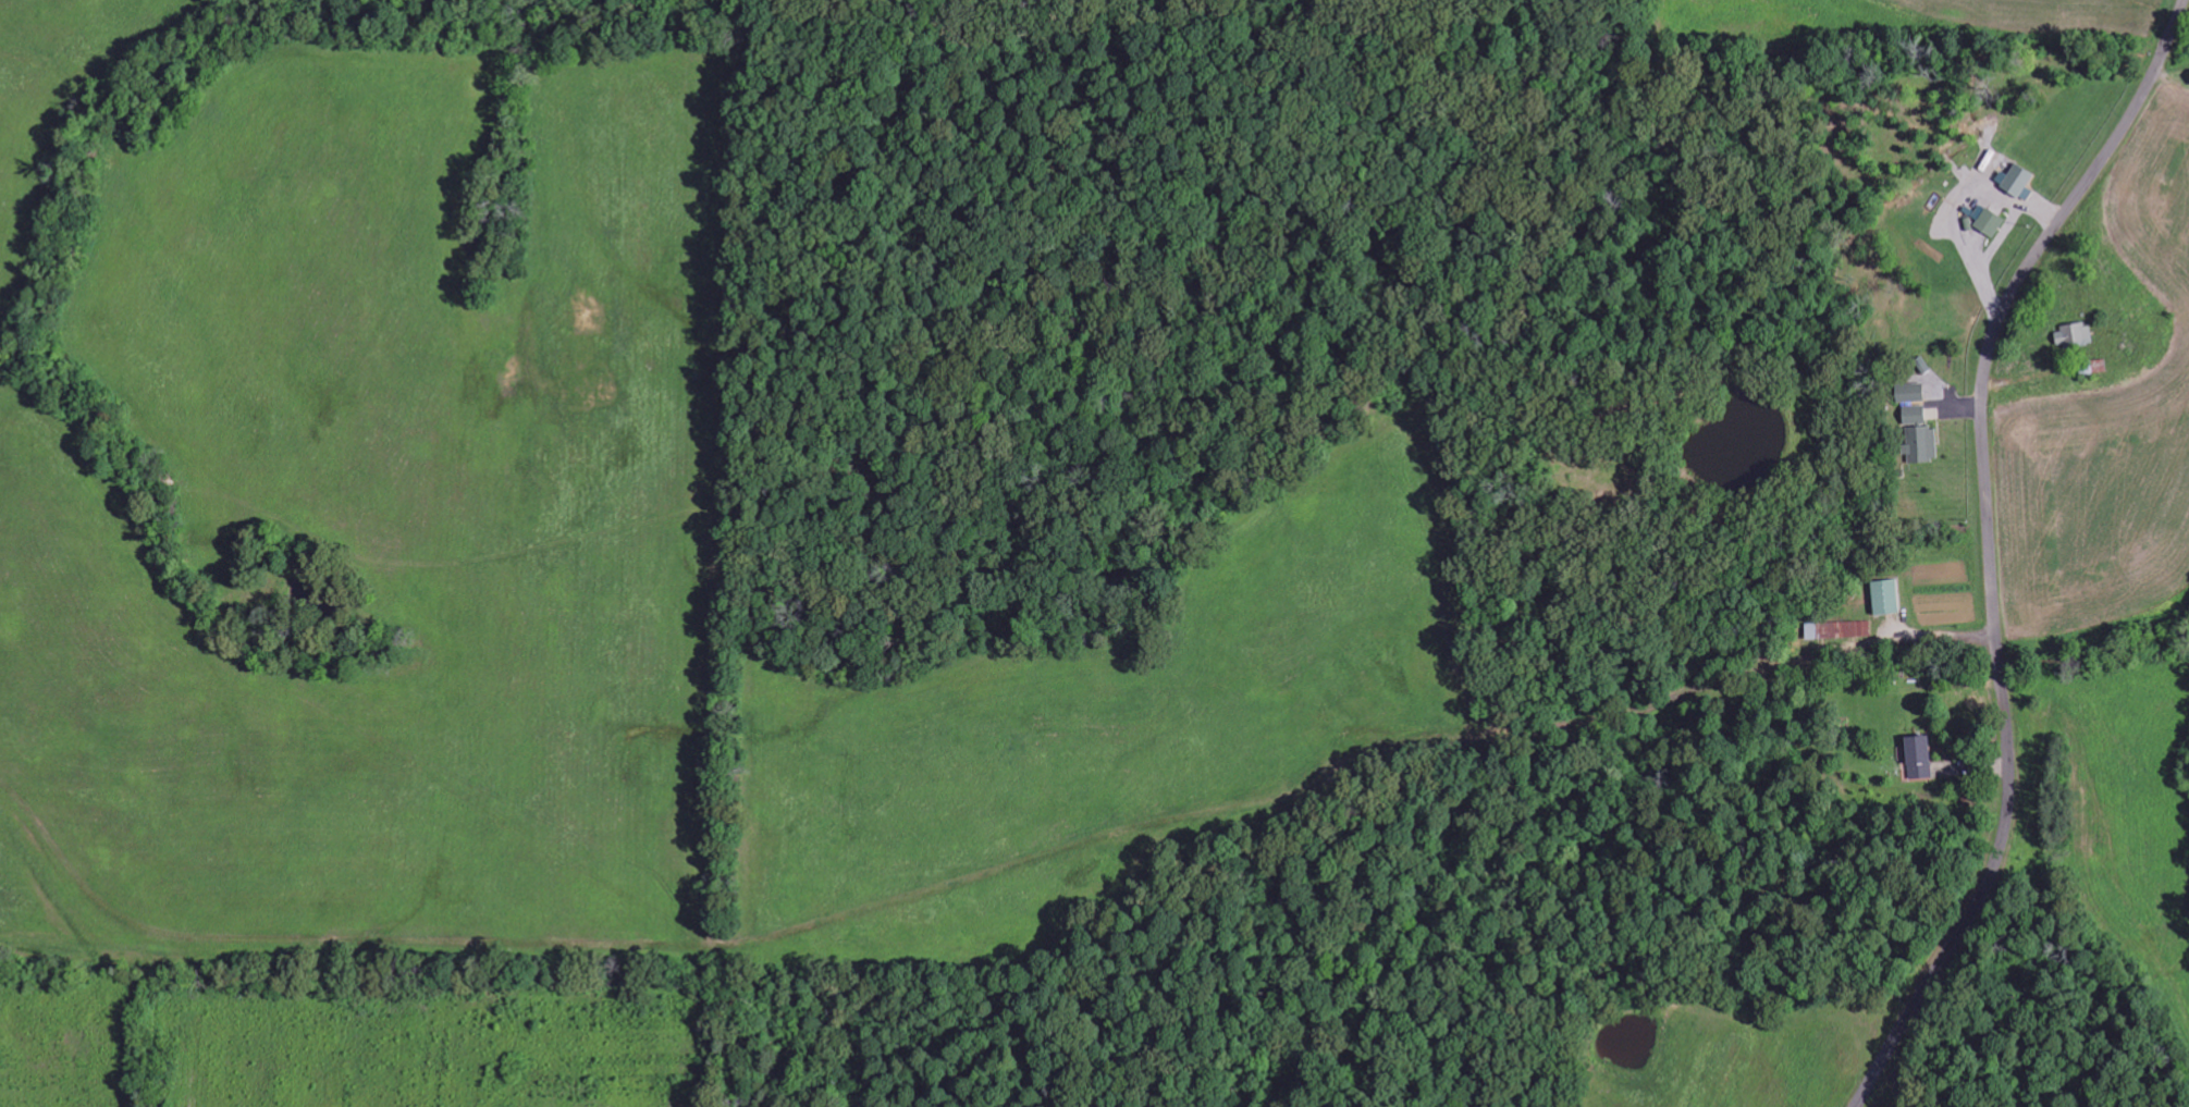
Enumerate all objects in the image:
building: (2015, 180)
building: (1989, 221)
building: (2075, 334)
building: (1910, 392)
road: (1991, 545)
building: (1885, 596)
building: (1838, 630)
building: (1918, 758)

